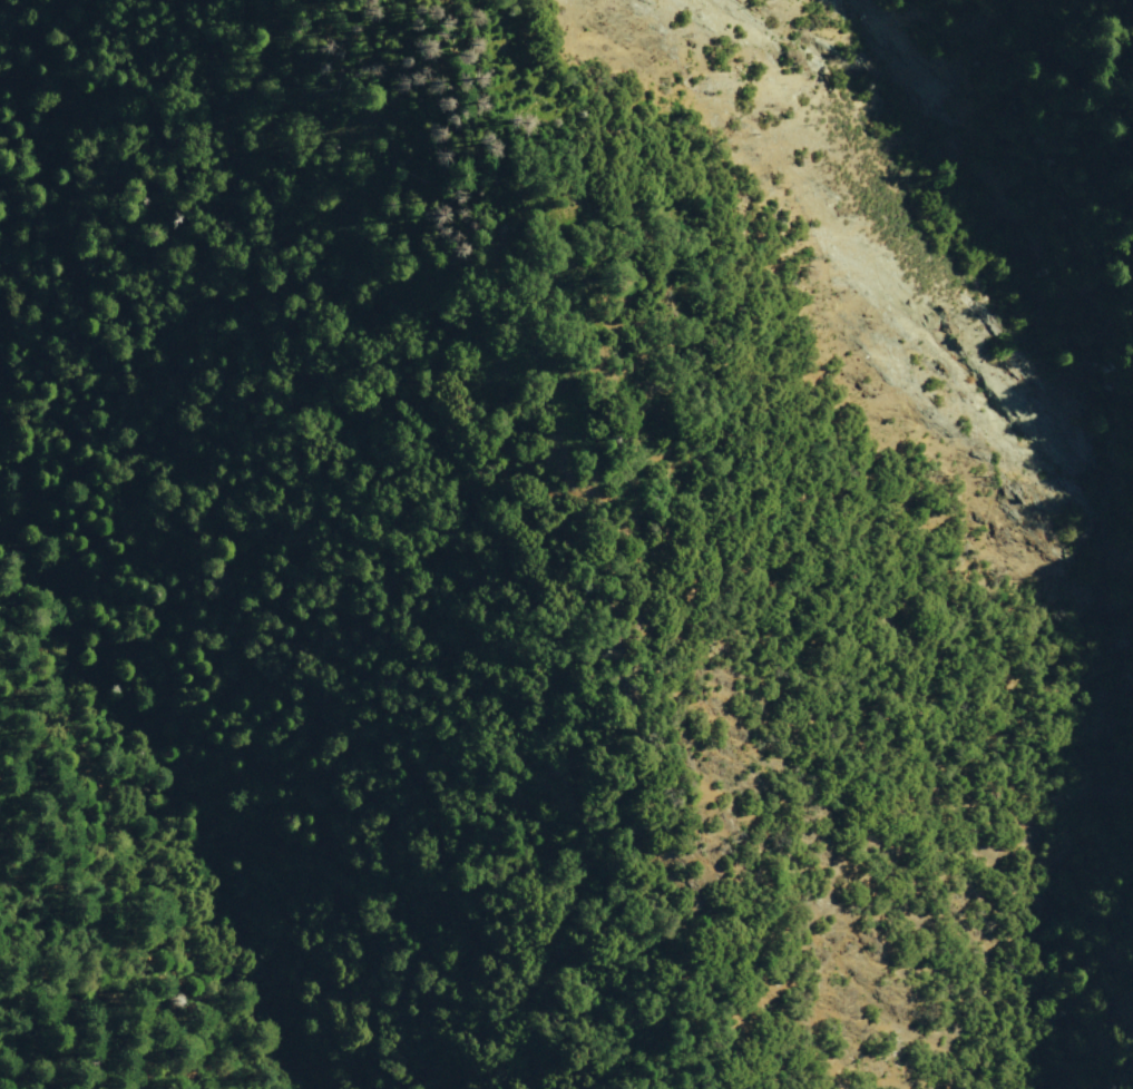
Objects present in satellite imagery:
road: (930, 789)

